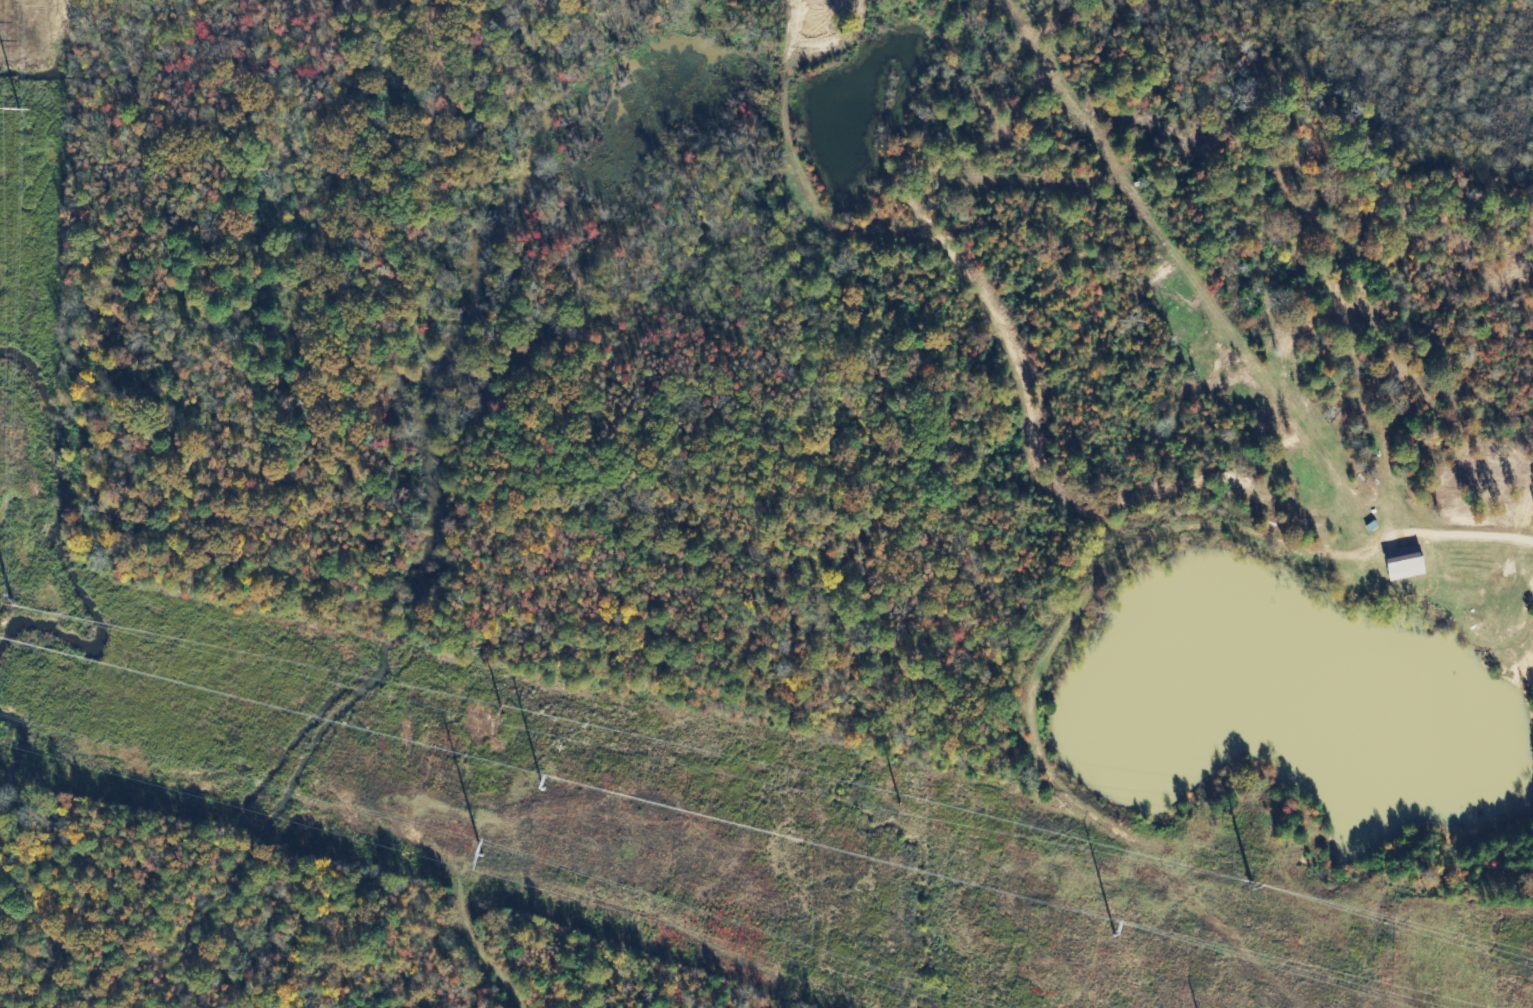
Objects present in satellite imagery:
power tower: (27, 105)
building: (1406, 567)
power tower: (26, 594)
power tower: (506, 708)
power tower: (552, 785)
power tower: (913, 801)
power tower: (496, 845)
power tower: (1257, 872)
power tower: (1124, 926)

